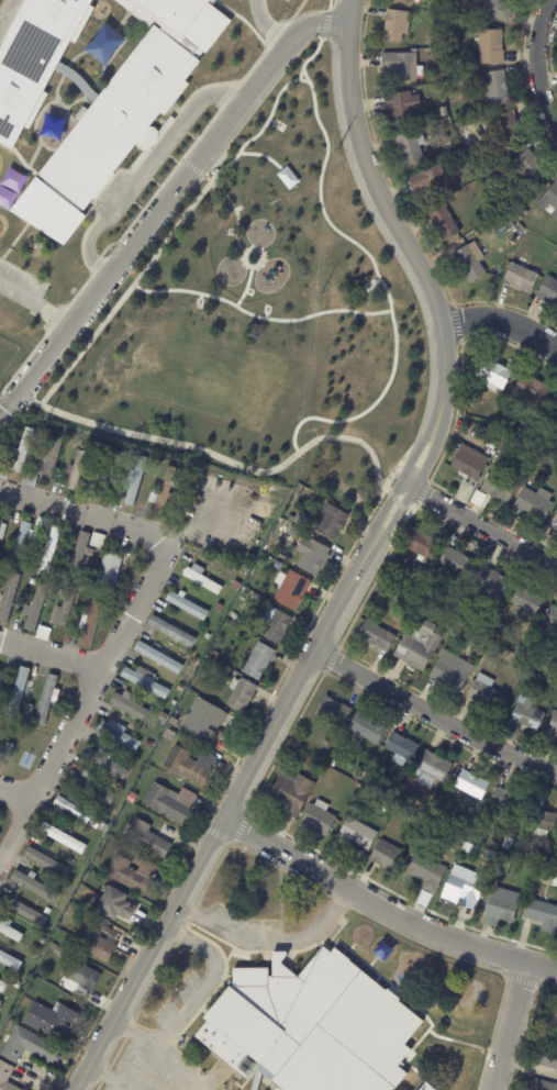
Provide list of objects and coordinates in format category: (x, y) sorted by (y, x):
building: (406, 0)
building: (497, 9)
road: (7, 12)
road: (267, 23)
building: (396, 25)
building: (432, 40)
building: (491, 46)
road: (311, 57)
building: (34, 58)
building: (402, 65)
road: (535, 65)
road: (300, 74)
building: (452, 79)
building: (495, 88)
building: (401, 107)
building: (443, 111)
building: (121, 113)
building: (504, 127)
building: (409, 148)
road: (144, 167)
building: (494, 167)
building: (528, 168)
building: (430, 181)
building: (508, 187)
building: (549, 199)
road: (163, 200)
road: (322, 211)
building: (524, 212)
building: (519, 218)
building: (444, 224)
building: (500, 231)
road: (243, 259)
building: (468, 264)
building: (520, 279)
building: (548, 291)
road: (214, 297)
road: (33, 303)
park: (260, 318)
road: (500, 321)
road: (86, 345)
building: (495, 371)
building: (532, 390)
building: (469, 402)
building: (555, 413)
building: (21, 421)
road: (305, 421)
building: (46, 431)
building: (528, 433)
road: (157, 441)
building: (492, 443)
building: (22, 449)
building: (131, 451)
building: (49, 460)
building: (536, 464)
building: (471, 465)
road: (394, 469)
building: (76, 470)
building: (185, 470)
building: (3, 471)
building: (108, 476)
building: (29, 479)
building: (135, 481)
building: (498, 488)
building: (166, 490)
building: (534, 505)
building: (290, 519)
building: (255, 520)
building: (330, 521)
building: (41, 523)
building: (554, 523)
road: (481, 526)
building: (1, 529)
building: (292, 531)
building: (23, 540)
building: (97, 540)
road: (144, 540)
building: (423, 547)
building: (49, 549)
building: (79, 556)
building: (312, 556)
road: (363, 561)
building: (23, 564)
building: (456, 564)
building: (222, 568)
building: (109, 572)
building: (201, 579)
building: (32, 581)
building: (490, 583)
building: (289, 588)
building: (59, 591)
building: (387, 591)
building: (9, 597)
building: (254, 597)
building: (86, 599)
building: (239, 599)
building: (526, 601)
building: (35, 605)
building: (187, 607)
building: (218, 608)
building: (65, 611)
building: (232, 612)
building: (424, 612)
building: (552, 620)
building: (91, 622)
building: (276, 624)
building: (171, 632)
building: (42, 633)
building: (207, 636)
building: (376, 637)
building: (474, 641)
building: (419, 646)
building: (215, 654)
building: (158, 657)
road: (49, 658)
building: (194, 659)
building: (258, 660)
building: (552, 665)
building: (0, 671)
building: (450, 672)
building: (1, 677)
building: (145, 681)
building: (543, 691)
building: (19, 692)
building: (241, 693)
building: (484, 694)
building: (47, 699)
building: (174, 702)
building: (505, 702)
building: (130, 705)
building: (333, 712)
road: (433, 715)
building: (526, 715)
building: (203, 719)
building: (165, 720)
building: (172, 721)
building: (553, 726)
building: (366, 728)
building: (168, 735)
building: (119, 736)
building: (325, 743)
building: (147, 746)
building: (7, 749)
building: (400, 749)
building: (103, 761)
building: (189, 764)
road: (49, 769)
building: (431, 770)
building: (148, 771)
building: (360, 775)
building: (90, 785)
building: (114, 785)
building: (471, 785)
building: (396, 788)
building: (291, 794)
building: (131, 797)
road: (15, 800)
building: (169, 801)
building: (508, 801)
building: (386, 808)
building: (74, 811)
building: (318, 820)
building: (544, 823)
building: (431, 830)
building: (355, 835)
building: (443, 835)
building: (62, 837)
building: (146, 838)
building: (464, 845)
building: (385, 857)
building: (47, 863)
building: (131, 874)
building: (426, 874)
building: (537, 881)
building: (555, 881)
building: (34, 886)
building: (464, 889)
building: (114, 903)
road: (385, 908)
building: (500, 908)
building: (1, 909)
building: (23, 911)
building: (46, 911)
building: (542, 915)
building: (13, 932)
building: (98, 944)
road: (269, 944)
building: (10, 960)
building: (30, 961)
building: (25, 974)
building: (79, 975)
road: (207, 982)
building: (2, 987)
building: (71, 991)
building: (0, 1002)
building: (554, 1019)
building: (51, 1021)
building: (7, 1024)
building: (312, 1026)
road: (511, 1026)
building: (27, 1047)
road: (158, 1052)
building: (189, 1052)
building: (548, 1058)
parking lot: (152, 1067)
building: (7, 1077)
road: (107, 1078)
building: (543, 1085)
building: (424, 1087)

